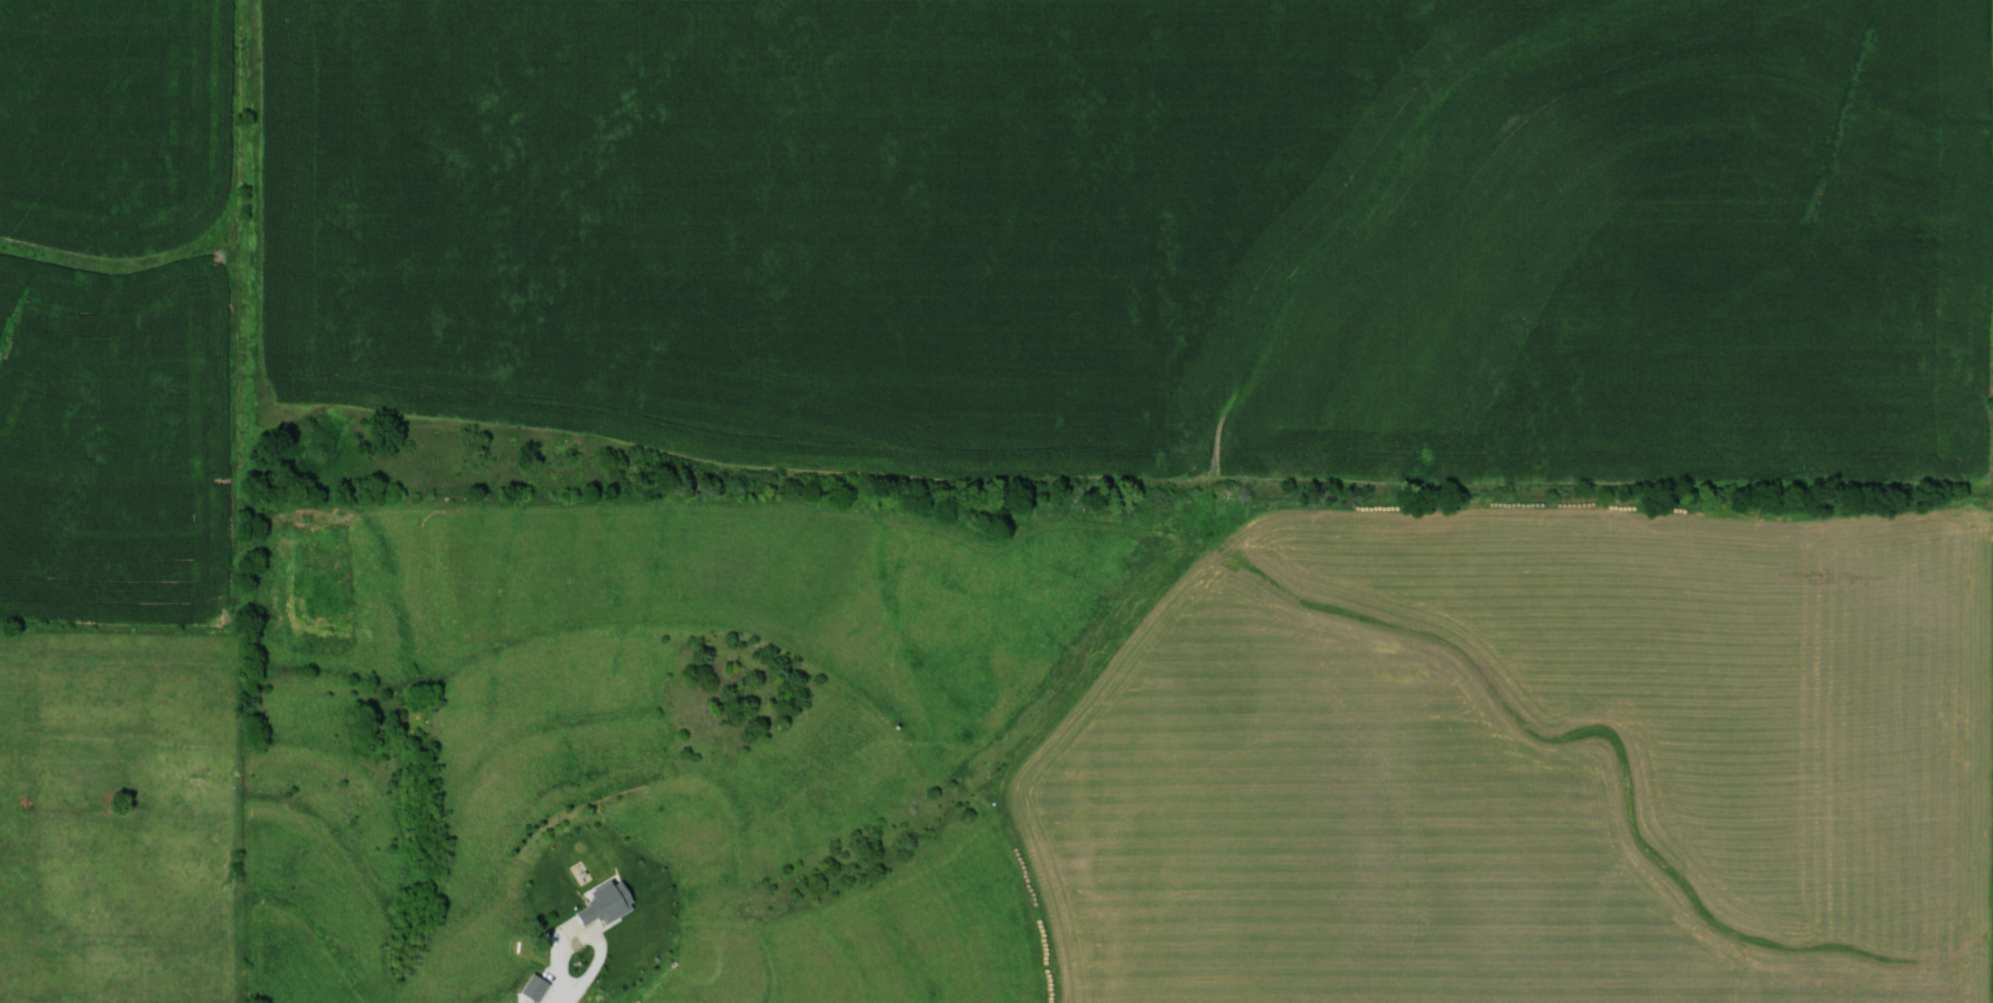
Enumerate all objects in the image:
building: (610, 902)
building: (538, 986)

